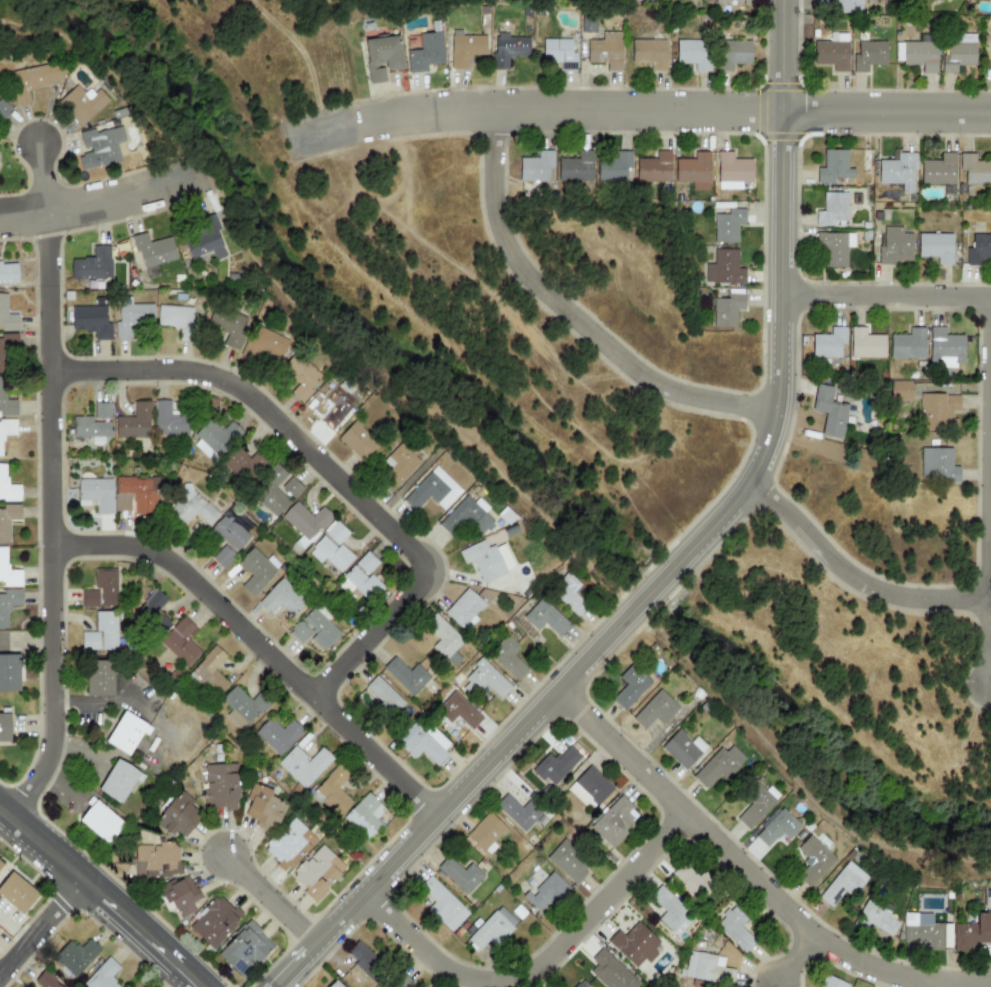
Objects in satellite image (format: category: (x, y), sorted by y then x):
building: (703, 0)
building: (719, 1)
building: (746, 2)
building: (838, 6)
building: (588, 27)
building: (465, 49)
building: (507, 49)
building: (605, 51)
building: (990, 51)
building: (831, 52)
building: (425, 53)
building: (558, 53)
building: (649, 53)
building: (958, 53)
building: (693, 54)
building: (732, 54)
road: (781, 55)
building: (868, 55)
road: (302, 56)
building: (920, 56)
building: (381, 57)
road: (111, 77)
building: (34, 80)
building: (81, 103)
road: (565, 110)
building: (3, 111)
road: (885, 113)
road: (318, 133)
street lamp: (958, 138)
building: (99, 146)
building: (535, 167)
building: (575, 167)
building: (613, 167)
building: (833, 167)
building: (653, 168)
building: (733, 168)
building: (938, 170)
building: (974, 170)
building: (693, 171)
building: (898, 172)
road: (41, 178)
road: (101, 202)
building: (831, 209)
building: (727, 226)
building: (206, 241)
building: (894, 246)
building: (934, 248)
building: (833, 249)
building: (978, 249)
building: (152, 250)
building: (92, 265)
building: (723, 268)
building: (8, 273)
road: (885, 296)
building: (727, 308)
building: (6, 315)
road: (319, 316)
road: (570, 316)
building: (90, 320)
building: (175, 320)
building: (228, 326)
building: (827, 343)
building: (865, 344)
building: (907, 345)
building: (266, 346)
building: (944, 348)
building: (7, 350)
building: (301, 376)
building: (900, 391)
building: (6, 402)
building: (337, 405)
building: (937, 411)
building: (101, 412)
building: (829, 412)
building: (168, 420)
building: (134, 422)
building: (88, 427)
building: (6, 431)
building: (214, 439)
building: (357, 441)
building: (401, 462)
building: (243, 464)
building: (937, 465)
road: (330, 474)
road: (408, 484)
building: (7, 487)
building: (291, 487)
road: (988, 490)
building: (272, 491)
building: (432, 491)
building: (139, 493)
building: (96, 494)
building: (121, 503)
building: (190, 508)
road: (540, 516)
building: (466, 517)
building: (7, 520)
road: (49, 522)
building: (305, 523)
building: (229, 532)
building: (336, 533)
road: (58, 546)
building: (330, 554)
building: (222, 557)
building: (486, 560)
building: (256, 570)
building: (8, 572)
building: (361, 578)
road: (663, 578)
road: (851, 578)
building: (100, 590)
building: (569, 594)
building: (281, 598)
building: (8, 605)
building: (464, 610)
building: (153, 611)
building: (545, 618)
road: (989, 628)
building: (320, 630)
building: (299, 632)
building: (101, 633)
building: (443, 639)
building: (181, 642)
road: (264, 652)
building: (507, 658)
building: (209, 672)
building: (9, 673)
building: (405, 675)
building: (98, 678)
building: (486, 679)
building: (629, 687)
building: (382, 695)
building: (242, 706)
building: (655, 710)
building: (458, 711)
building: (4, 728)
building: (125, 733)
building: (277, 734)
building: (422, 742)
building: (682, 749)
road: (620, 752)
building: (303, 765)
building: (555, 766)
building: (716, 768)
road: (792, 772)
building: (118, 781)
building: (220, 786)
building: (590, 788)
building: (331, 793)
building: (756, 805)
building: (262, 807)
building: (517, 812)
building: (178, 815)
building: (365, 816)
building: (100, 822)
building: (614, 822)
building: (777, 828)
building: (485, 831)
building: (288, 844)
road: (40, 845)
building: (815, 859)
building: (156, 860)
building: (567, 862)
building: (0, 865)
building: (317, 872)
building: (459, 875)
building: (692, 881)
building: (842, 884)
building: (547, 892)
building: (16, 893)
building: (179, 895)
road: (269, 899)
building: (442, 904)
building: (671, 911)
building: (875, 920)
building: (214, 921)
road: (41, 926)
road: (109, 929)
building: (492, 929)
building: (735, 929)
building: (921, 930)
road: (139, 933)
building: (972, 933)
building: (946, 936)
road: (818, 938)
building: (634, 945)
road: (127, 947)
building: (244, 949)
building: (75, 956)
road: (793, 959)
building: (363, 960)
road: (294, 965)
road: (538, 965)
building: (707, 969)
building: (609, 972)
building: (102, 975)
road: (174, 979)
building: (45, 980)
building: (399, 981)
building: (830, 982)
building: (334, 984)
building: (576, 985)

